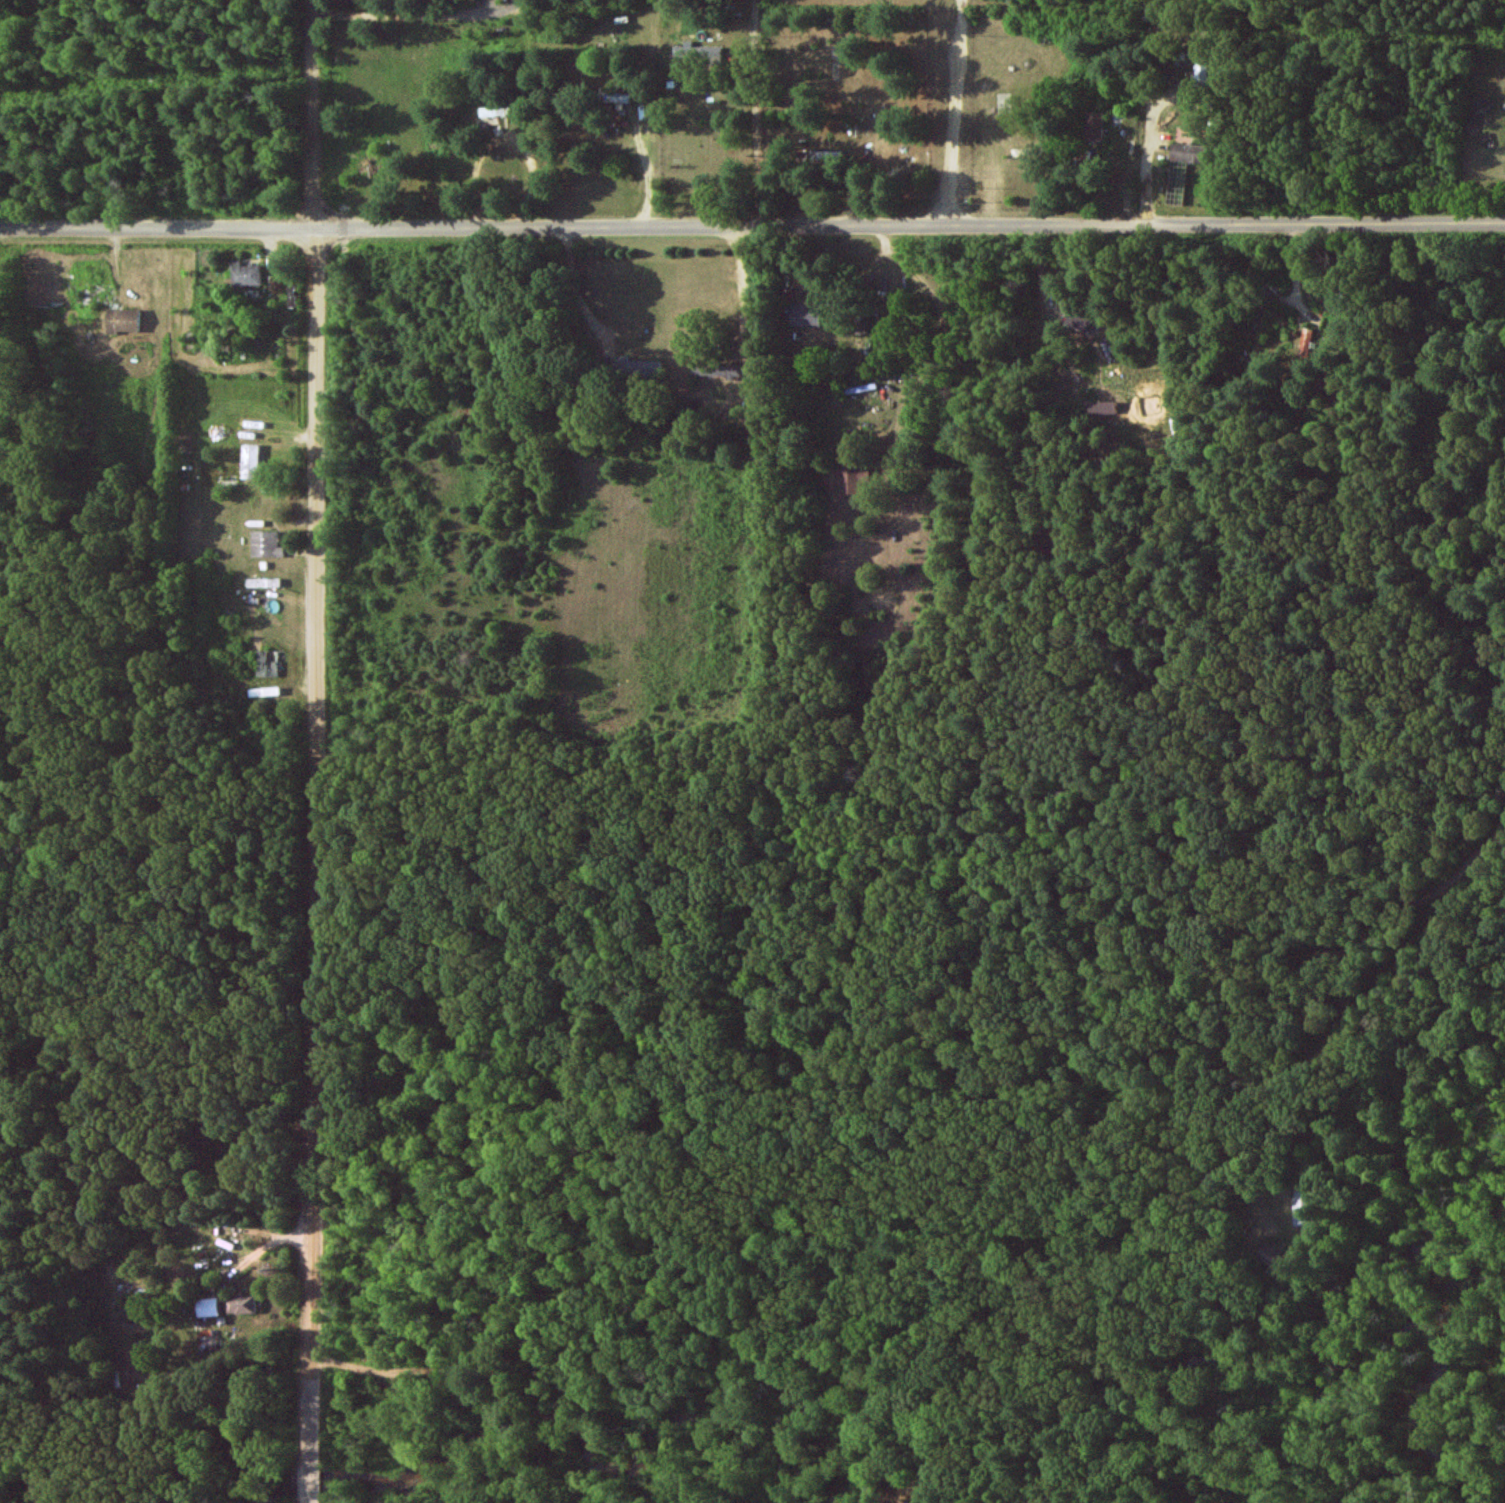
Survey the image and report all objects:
road: (396, 15)
building: (698, 52)
building: (492, 111)
road: (754, 113)
road: (947, 113)
building: (1094, 127)
building: (1187, 153)
road: (1147, 159)
road: (653, 172)
road: (752, 226)
building: (244, 275)
road: (748, 286)
road: (576, 291)
building: (806, 315)
building: (1078, 320)
building: (120, 321)
building: (637, 368)
building: (716, 370)
building: (249, 462)
building: (849, 479)
building: (265, 545)
building: (266, 663)
road: (313, 751)
road: (1355, 970)
building: (1304, 1207)
building: (1274, 1257)
building: (241, 1304)
building: (207, 1307)

